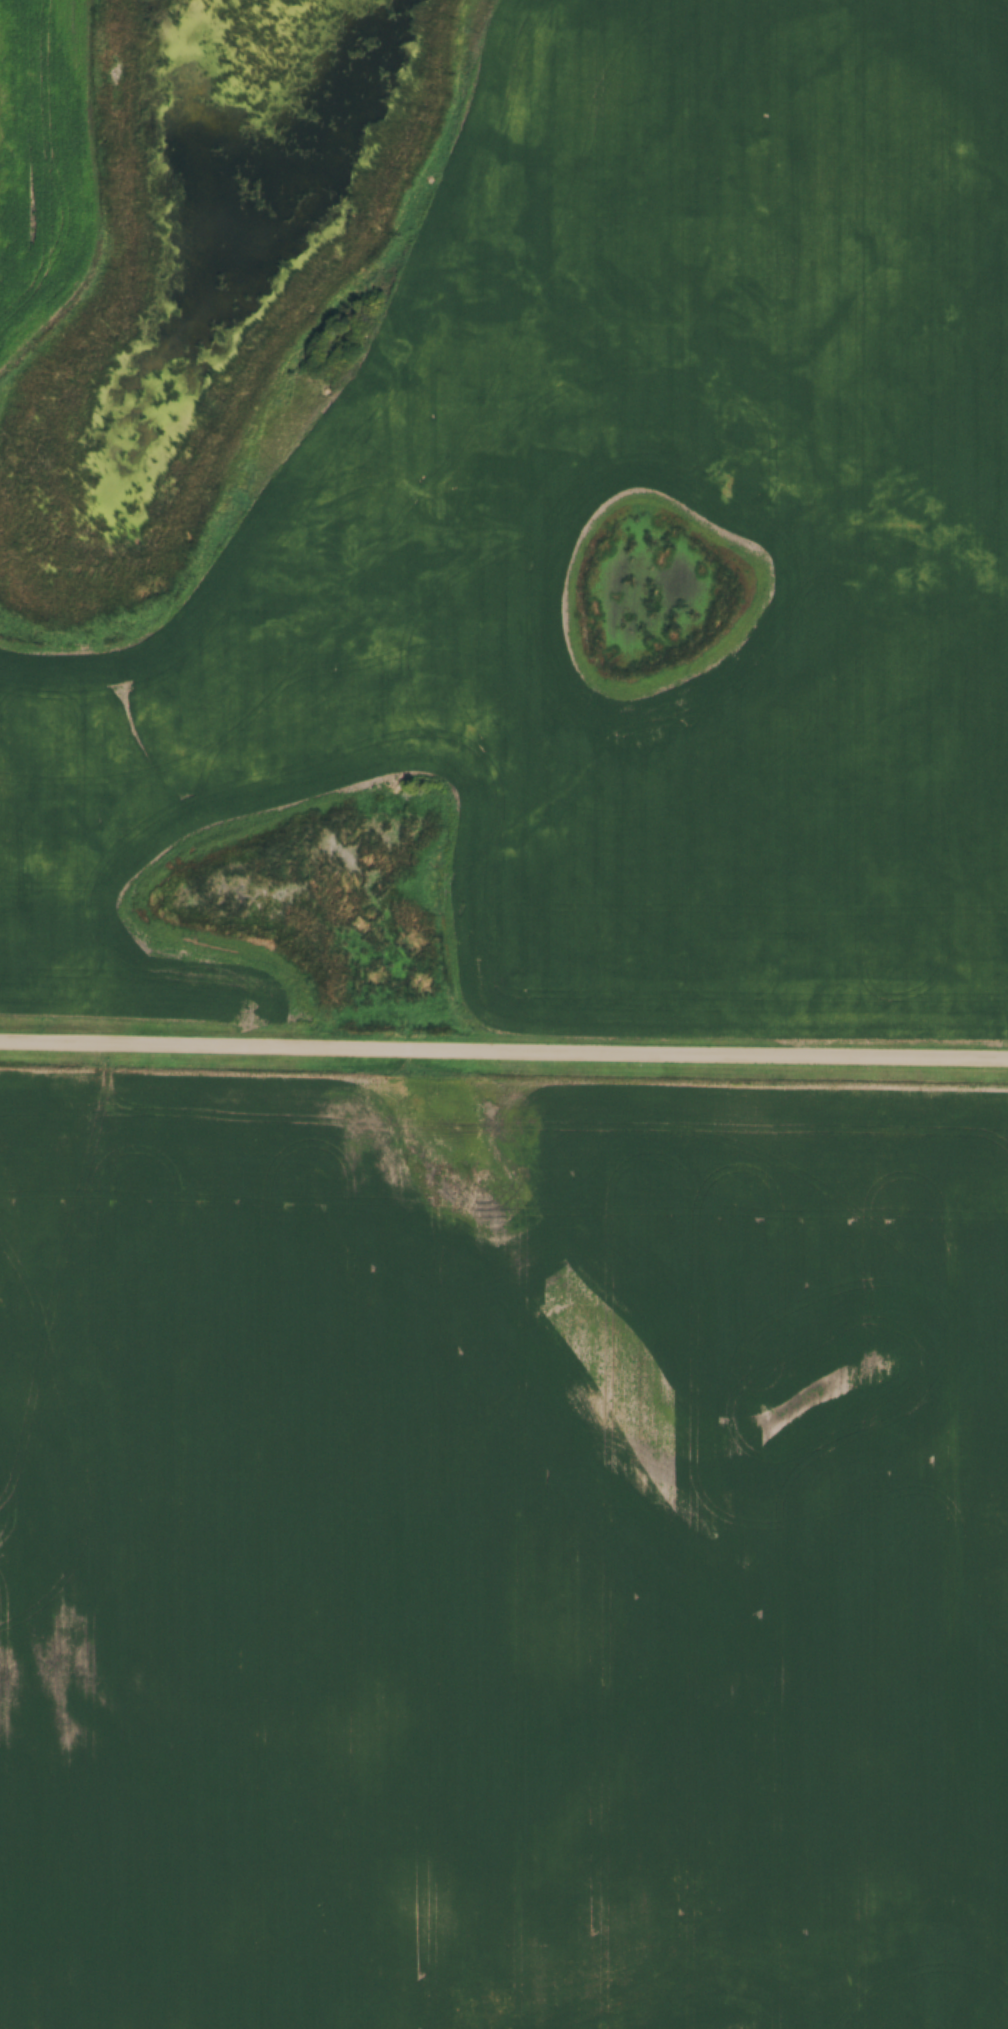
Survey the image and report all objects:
road: (504, 1049)

